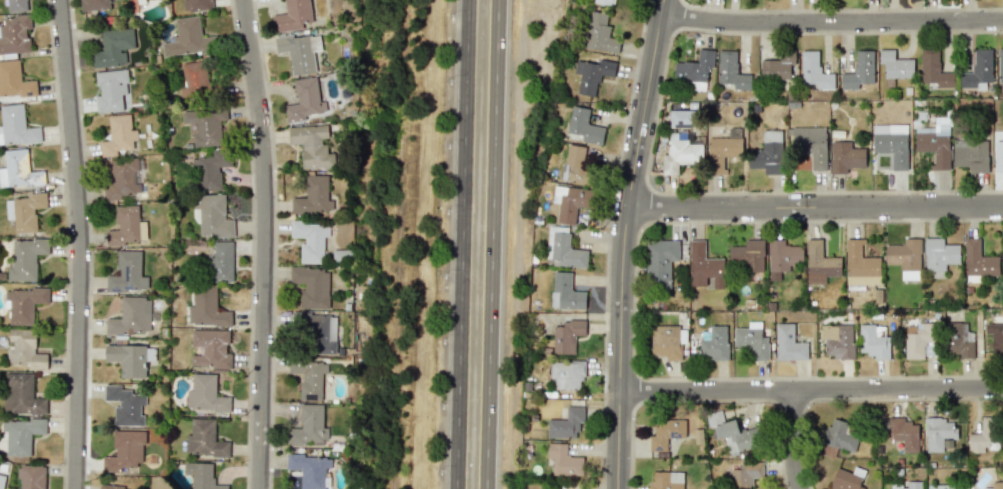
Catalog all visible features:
building: (601, 1)
building: (94, 4)
building: (17, 5)
building: (196, 5)
building: (293, 15)
road: (831, 21)
building: (599, 33)
building: (15, 34)
building: (185, 37)
building: (113, 47)
building: (300, 51)
building: (895, 65)
building: (1000, 65)
building: (777, 66)
building: (695, 69)
building: (934, 69)
building: (859, 70)
building: (731, 71)
building: (814, 71)
building: (978, 71)
building: (593, 74)
building: (195, 77)
building: (14, 80)
building: (112, 91)
building: (304, 100)
building: (205, 125)
building: (16, 126)
building: (585, 126)
building: (118, 135)
building: (935, 142)
building: (891, 143)
building: (312, 145)
building: (811, 145)
building: (723, 150)
building: (680, 153)
building: (768, 153)
building: (971, 154)
building: (998, 155)
building: (845, 157)
building: (576, 164)
building: (19, 170)
building: (210, 170)
building: (121, 178)
building: (313, 196)
building: (570, 202)
road: (815, 205)
building: (25, 211)
building: (212, 216)
building: (124, 226)
building: (311, 239)
road: (607, 242)
road: (623, 242)
road: (262, 243)
road: (274, 243)
road: (78, 244)
railway: (400, 244)
road: (461, 244)
road: (491, 244)
building: (564, 249)
building: (747, 256)
building: (939, 256)
building: (905, 257)
building: (25, 258)
building: (221, 260)
building: (979, 260)
building: (820, 263)
building: (1002, 264)
building: (660, 265)
building: (704, 267)
rooftop solar panel: (126, 272)
building: (127, 273)
building: (312, 286)
rooftop solar panel: (132, 287)
rooftop solar panel: (118, 289)
building: (566, 292)
building: (23, 303)
building: (206, 308)
building: (130, 316)
building: (317, 332)
building: (567, 336)
building: (996, 337)
building: (838, 340)
building: (920, 340)
building: (665, 341)
building: (752, 341)
building: (874, 341)
building: (957, 341)
building: (715, 343)
building: (788, 343)
building: (210, 348)
building: (25, 349)
building: (130, 359)
building: (566, 374)
building: (309, 378)
road: (812, 390)
building: (205, 394)
building: (22, 395)
building: (126, 404)
building: (566, 423)
building: (309, 426)
rooftop solar panel: (674, 431)
building: (901, 432)
building: (939, 432)
building: (666, 433)
building: (21, 434)
building: (840, 435)
building: (985, 435)
building: (204, 439)
road: (795, 440)
rooftop solar panel: (659, 446)
building: (125, 451)
building: (563, 460)
building: (309, 470)
building: (746, 473)
building: (202, 475)
building: (31, 476)
building: (666, 480)
building: (845, 480)
building: (1, 482)
building: (906, 485)
building: (996, 485)
building: (110, 486)
building: (945, 486)

